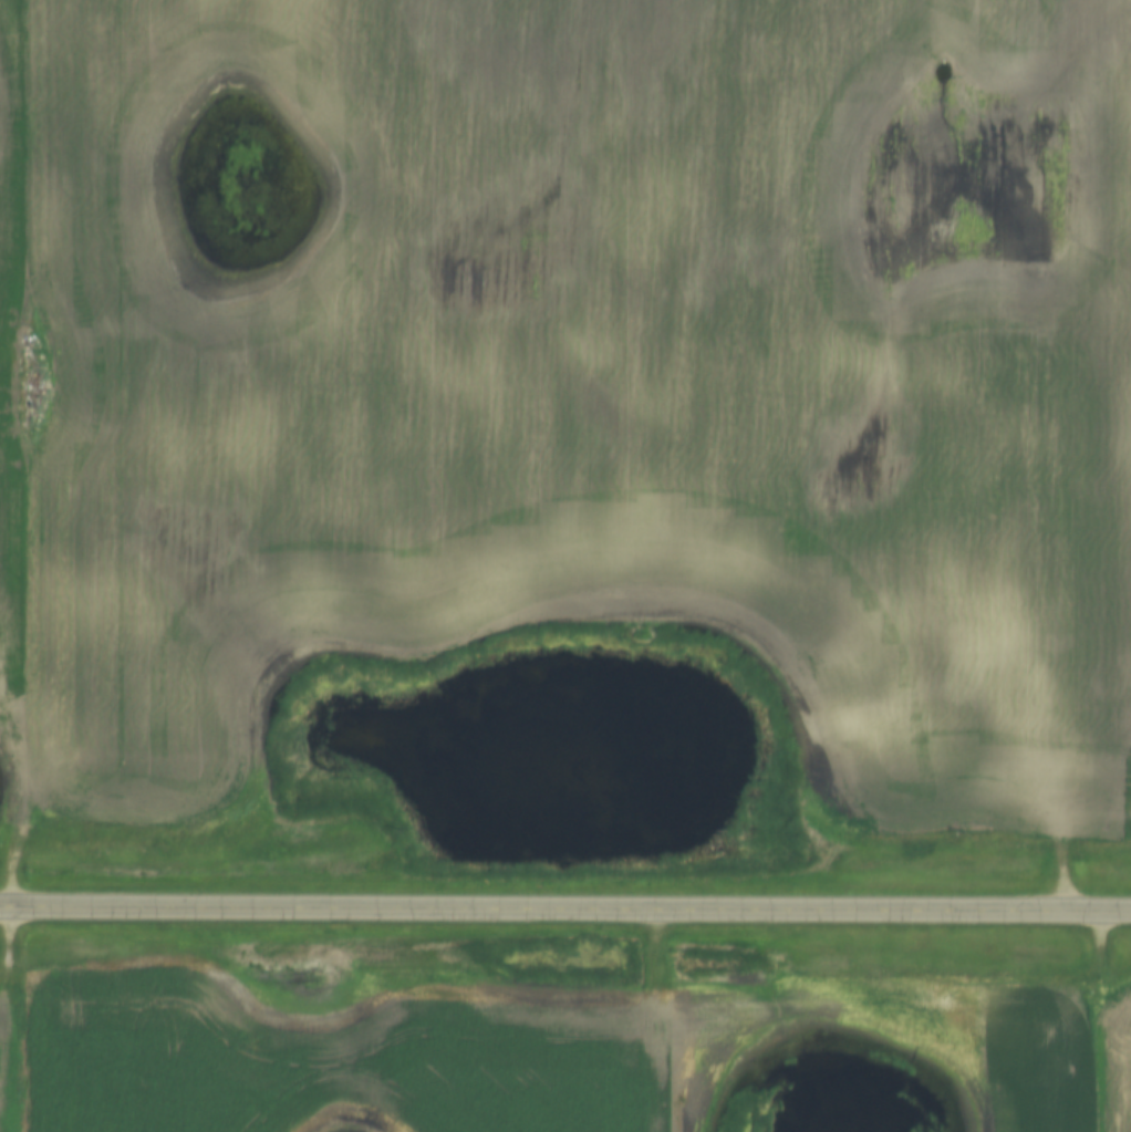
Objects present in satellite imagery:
road: (564, 912)

